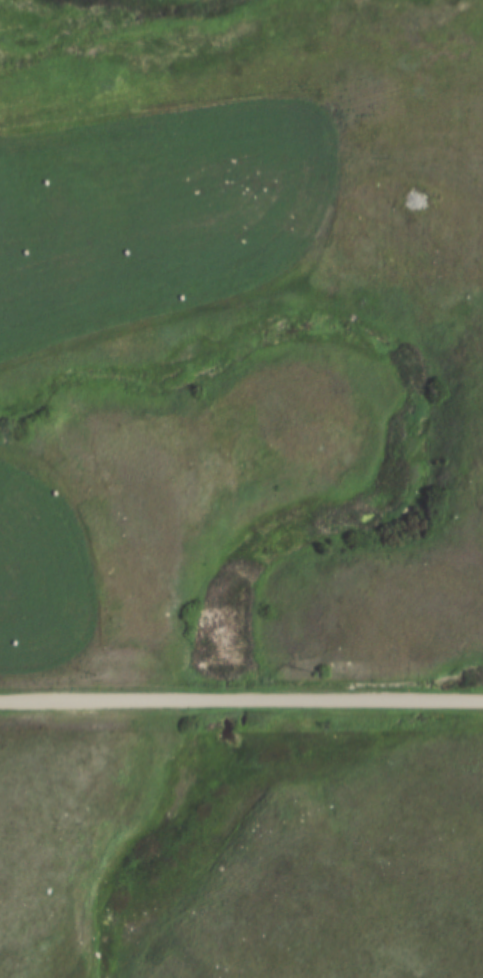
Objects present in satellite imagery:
road: (241, 700)

